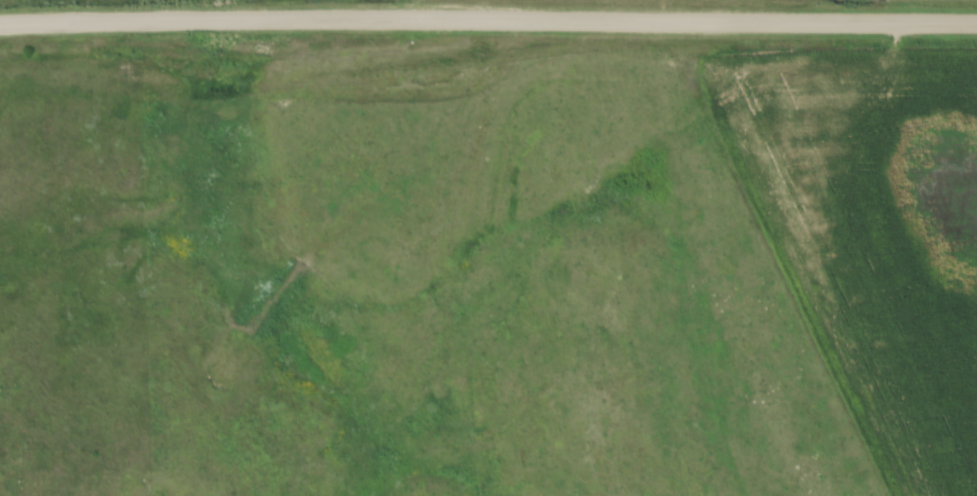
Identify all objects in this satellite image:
road: (488, 23)

